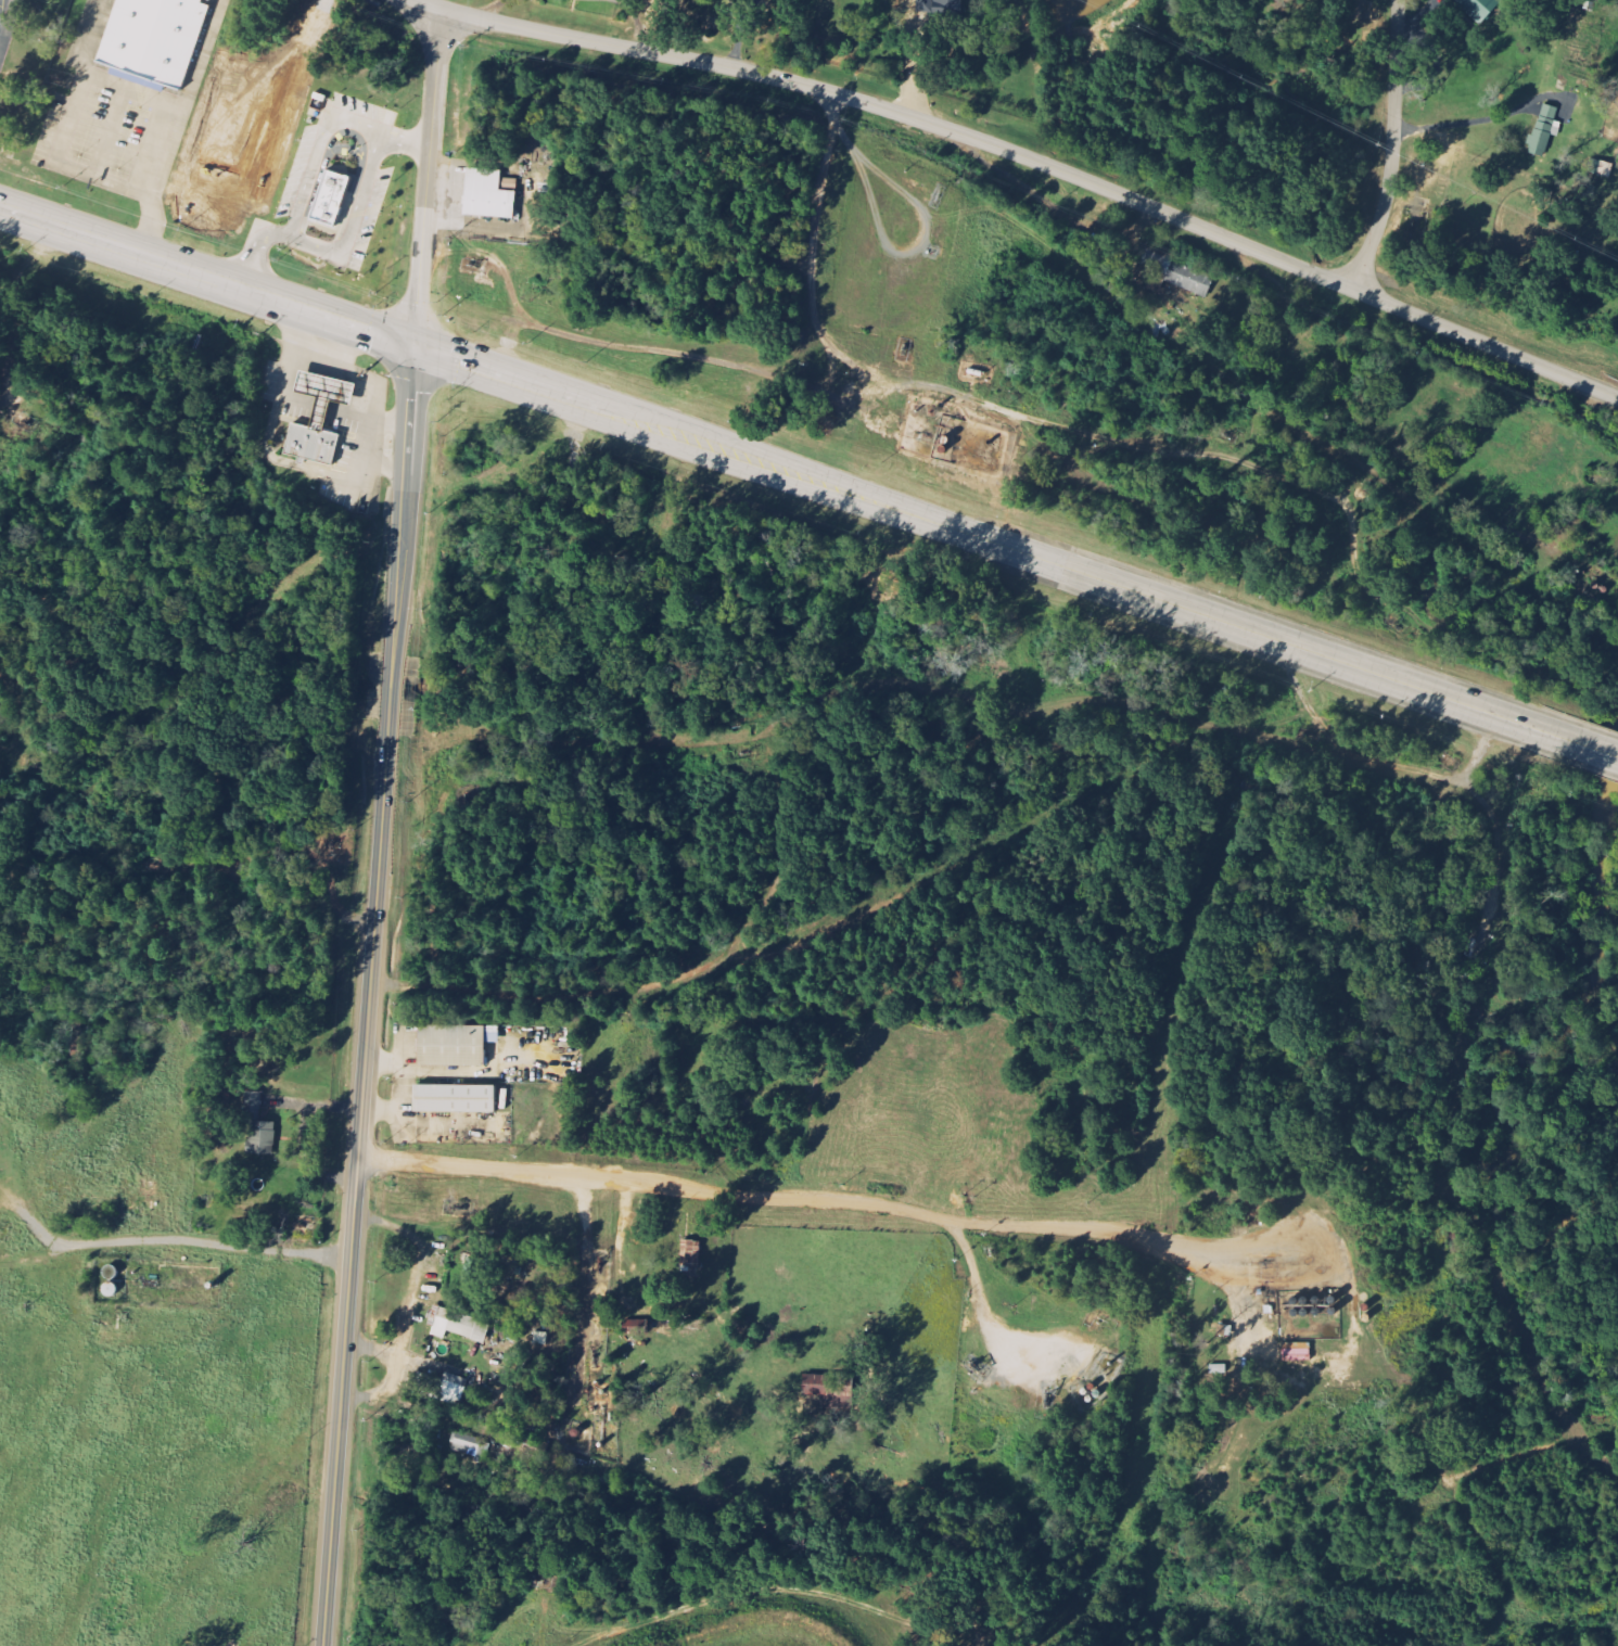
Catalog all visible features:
building: (946, 5)
building: (1481, 8)
parking lot: (9, 17)
road: (8, 25)
power tower: (1147, 26)
road: (2, 33)
building: (155, 37)
parking lot: (3, 51)
road: (161, 105)
building: (1545, 131)
road: (1392, 146)
road: (1027, 156)
power tower: (1417, 161)
building: (1601, 168)
road: (428, 178)
building: (491, 194)
building: (332, 200)
road: (105, 245)
building: (1174, 275)
road: (313, 314)
traffic signals: (413, 347)
road: (646, 348)
road: (530, 386)
building: (326, 392)
gas station: (326, 392)
road: (1014, 412)
road: (1383, 442)
building: (313, 444)
road: (1112, 584)
road: (1175, 710)
road: (1297, 714)
road: (12, 739)
road: (1479, 751)
road: (1598, 751)
road: (1437, 777)
road: (285, 855)
road: (670, 983)
road: (369, 996)
building: (456, 1044)
building: (457, 1098)
building: (254, 1103)
building: (263, 1137)
road: (470, 1169)
road: (1045, 1228)
road: (164, 1240)
building: (691, 1253)
road: (33, 1261)
road: (584, 1291)
road: (984, 1311)
building: (461, 1326)
building: (636, 1328)
building: (542, 1339)
building: (443, 1388)
building: (832, 1390)
building: (469, 1444)
road: (773, 1592)

